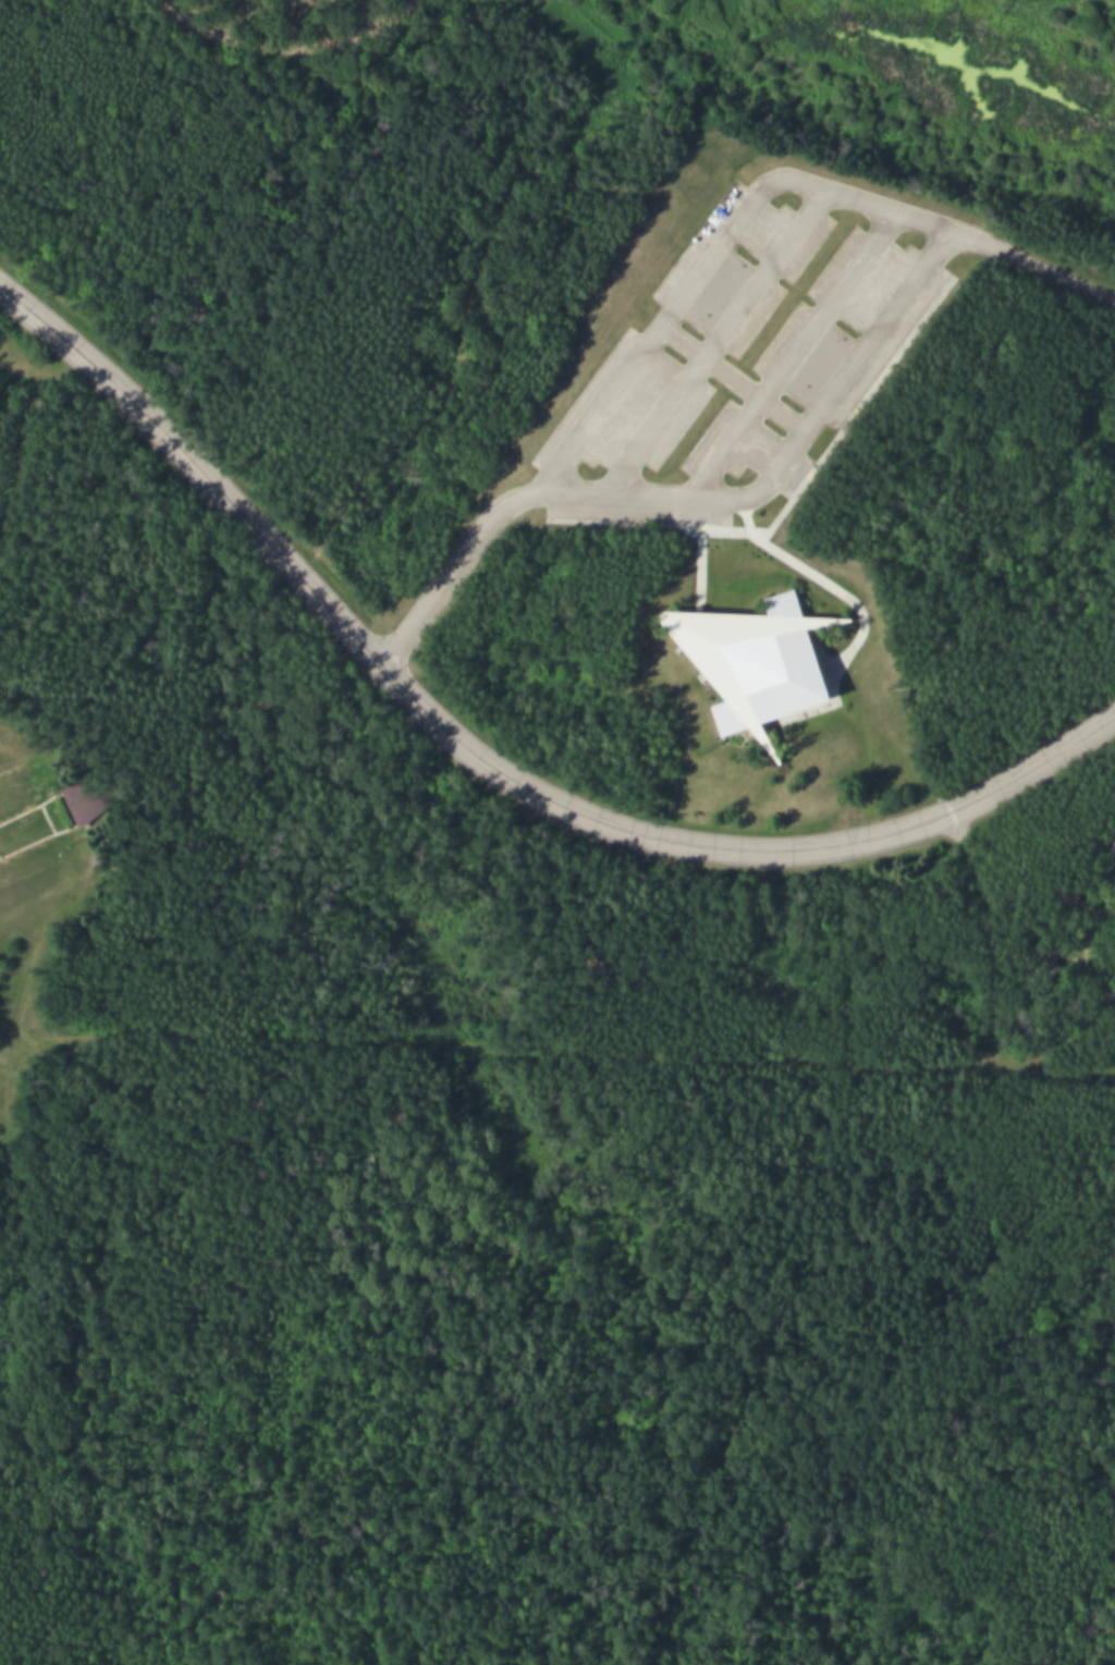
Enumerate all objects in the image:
road: (282, 38)
road: (713, 257)
road: (720, 340)
parking lot: (747, 350)
road: (796, 351)
road: (769, 472)
building: (757, 662)
road: (482, 758)
building: (84, 803)
park: (557, 832)
road: (1081, 945)
road: (553, 1049)

